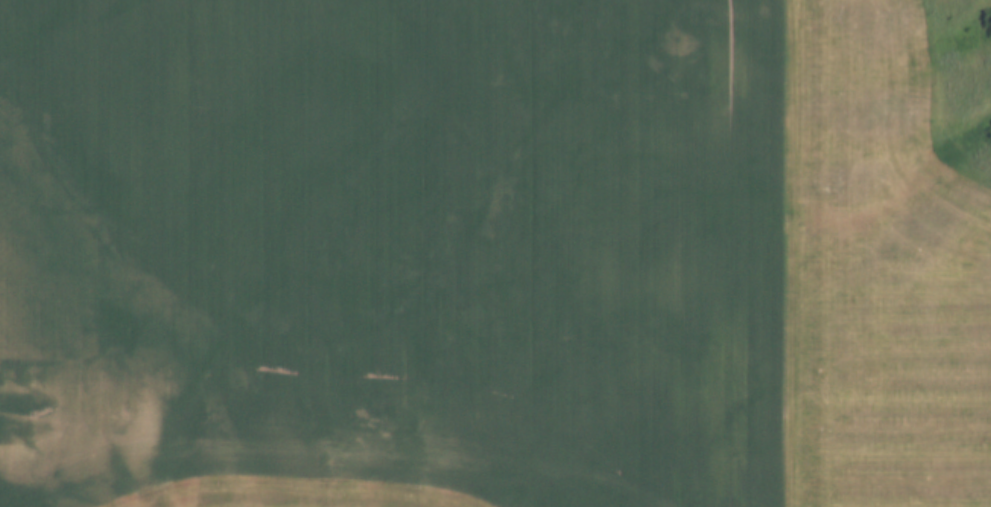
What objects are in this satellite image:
road: (787, 253)

